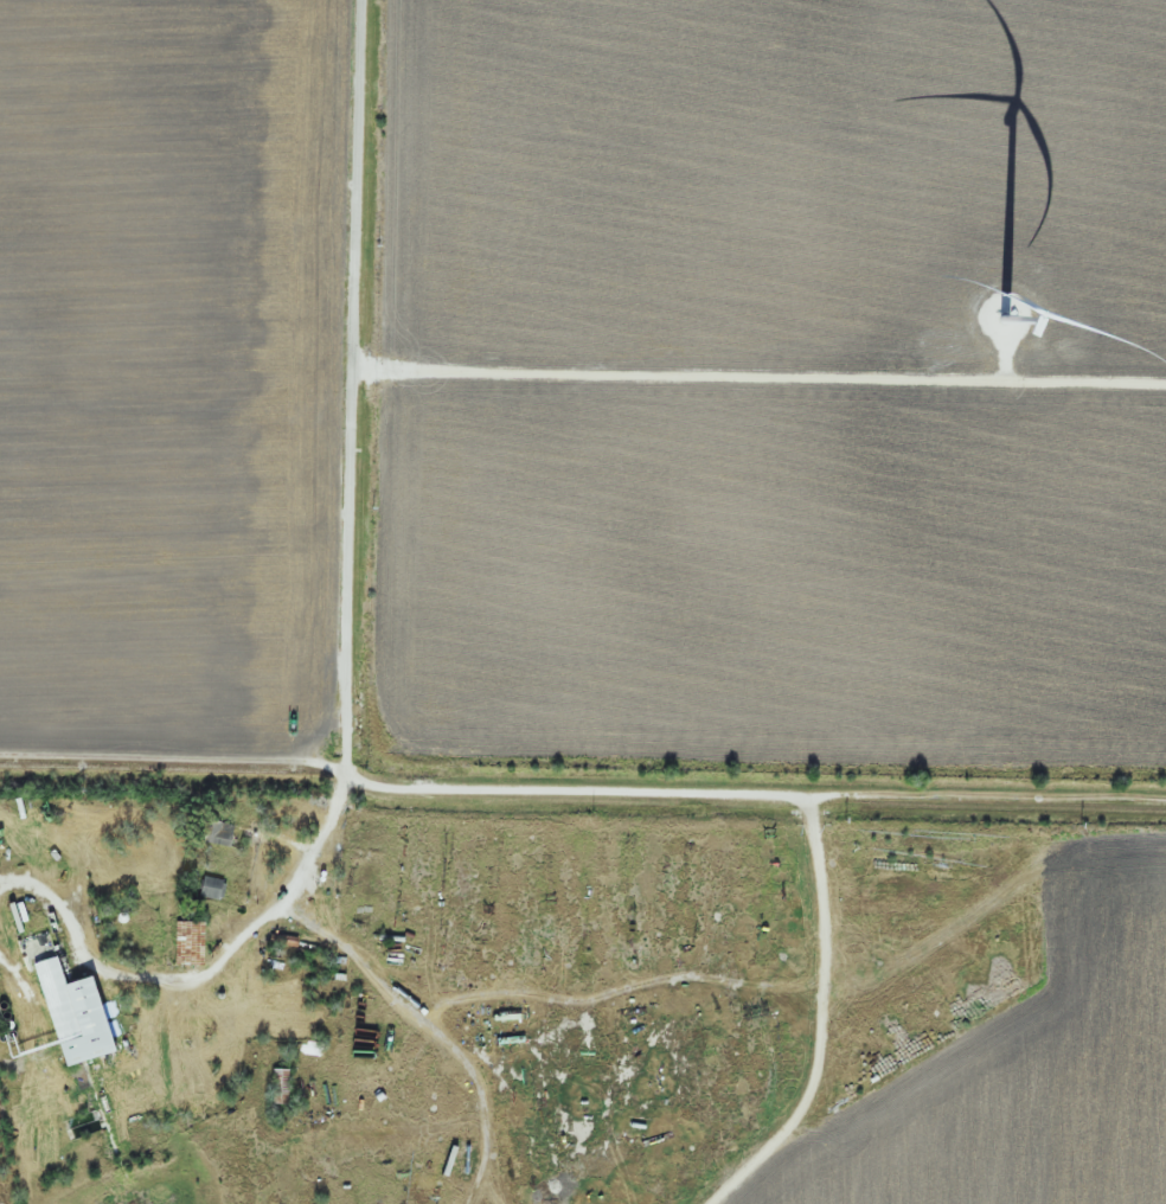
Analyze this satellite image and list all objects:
wind turbine: (1007, 313)
road: (348, 781)
building: (217, 834)
building: (211, 889)
building: (188, 943)
building: (73, 1014)
building: (280, 1087)

